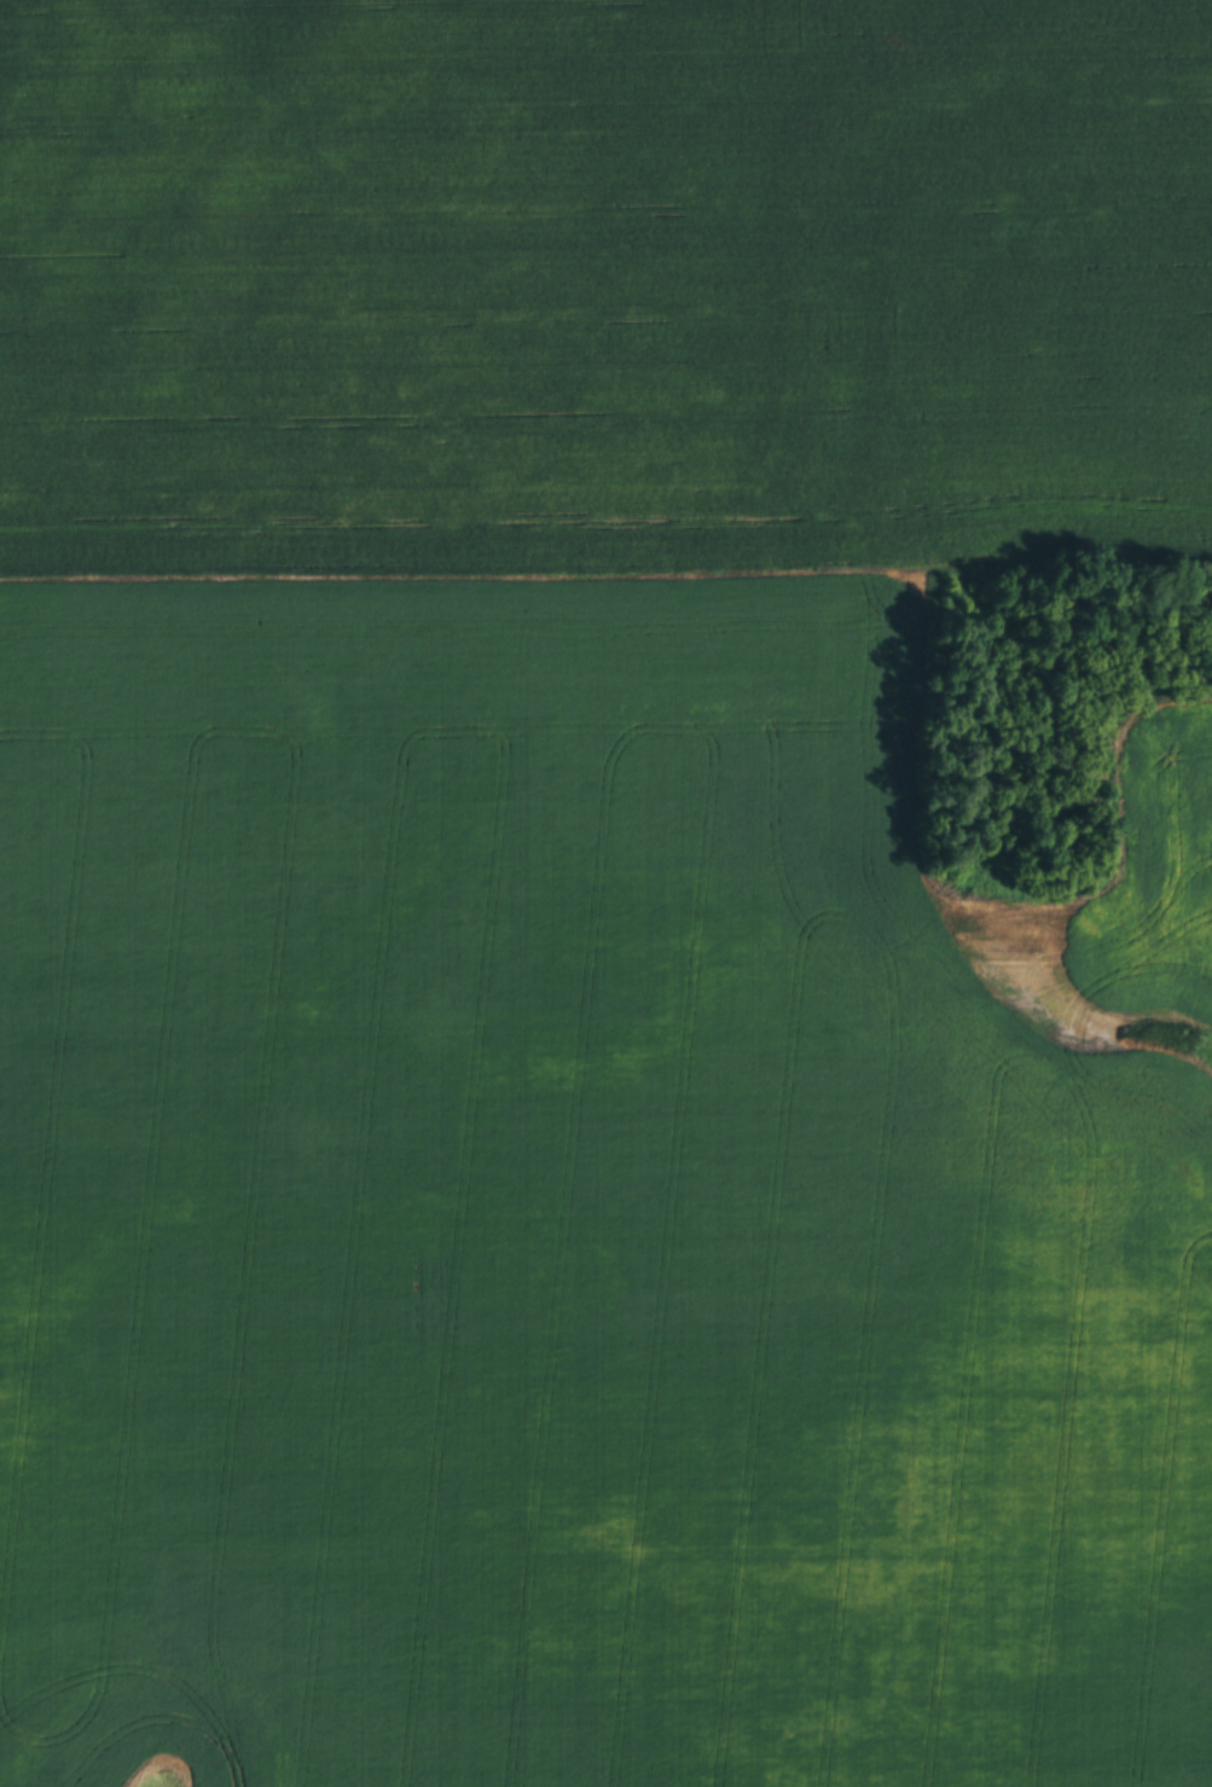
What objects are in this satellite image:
road: (1175, 745)
building: (1138, 776)

